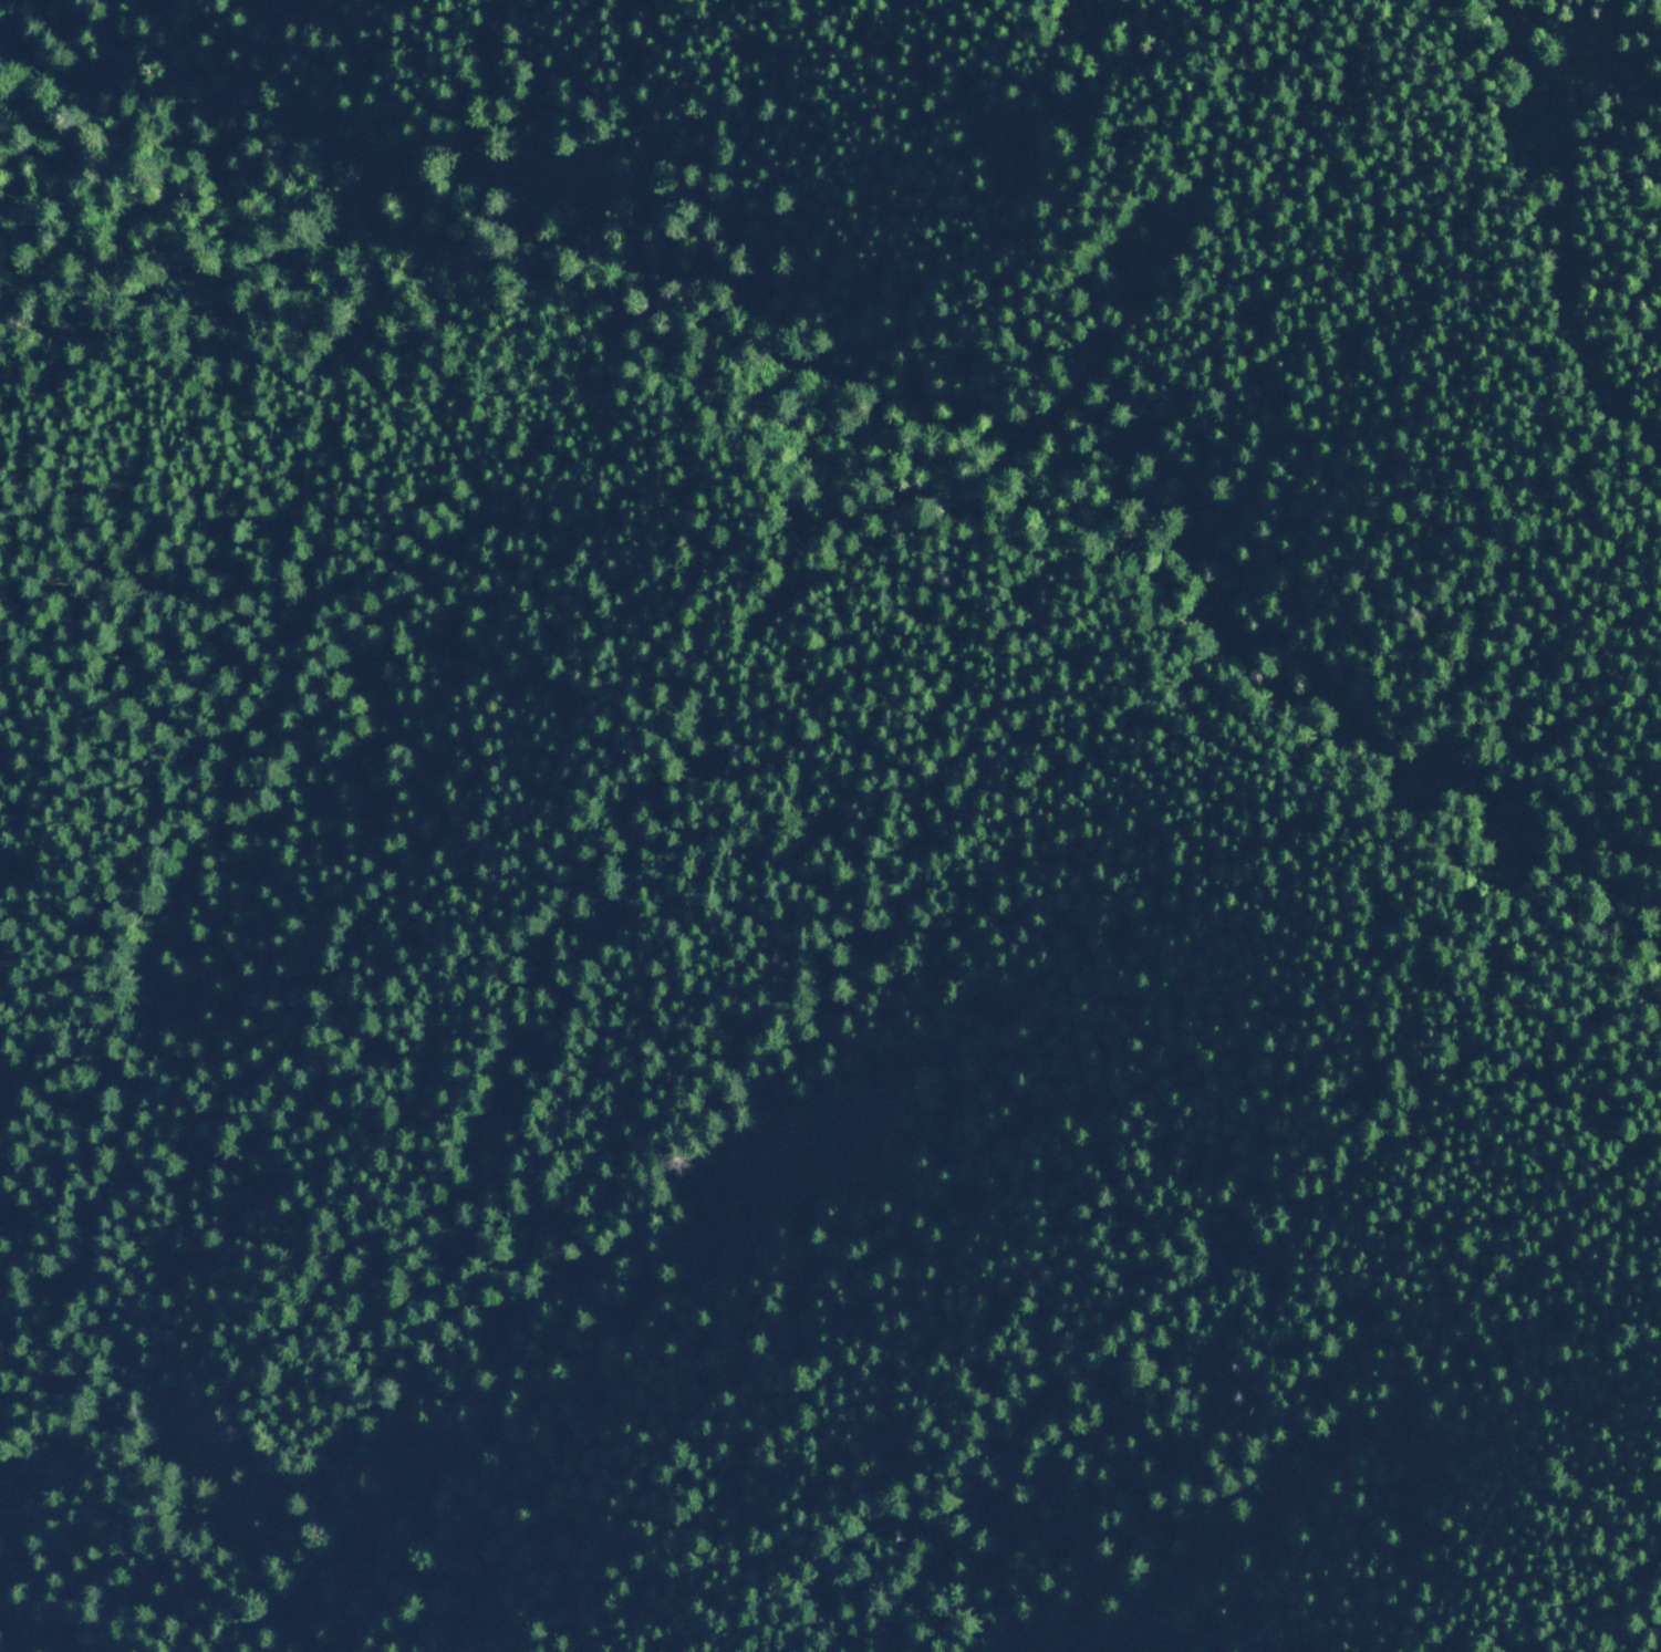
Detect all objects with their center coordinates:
road: (1557, 238)

